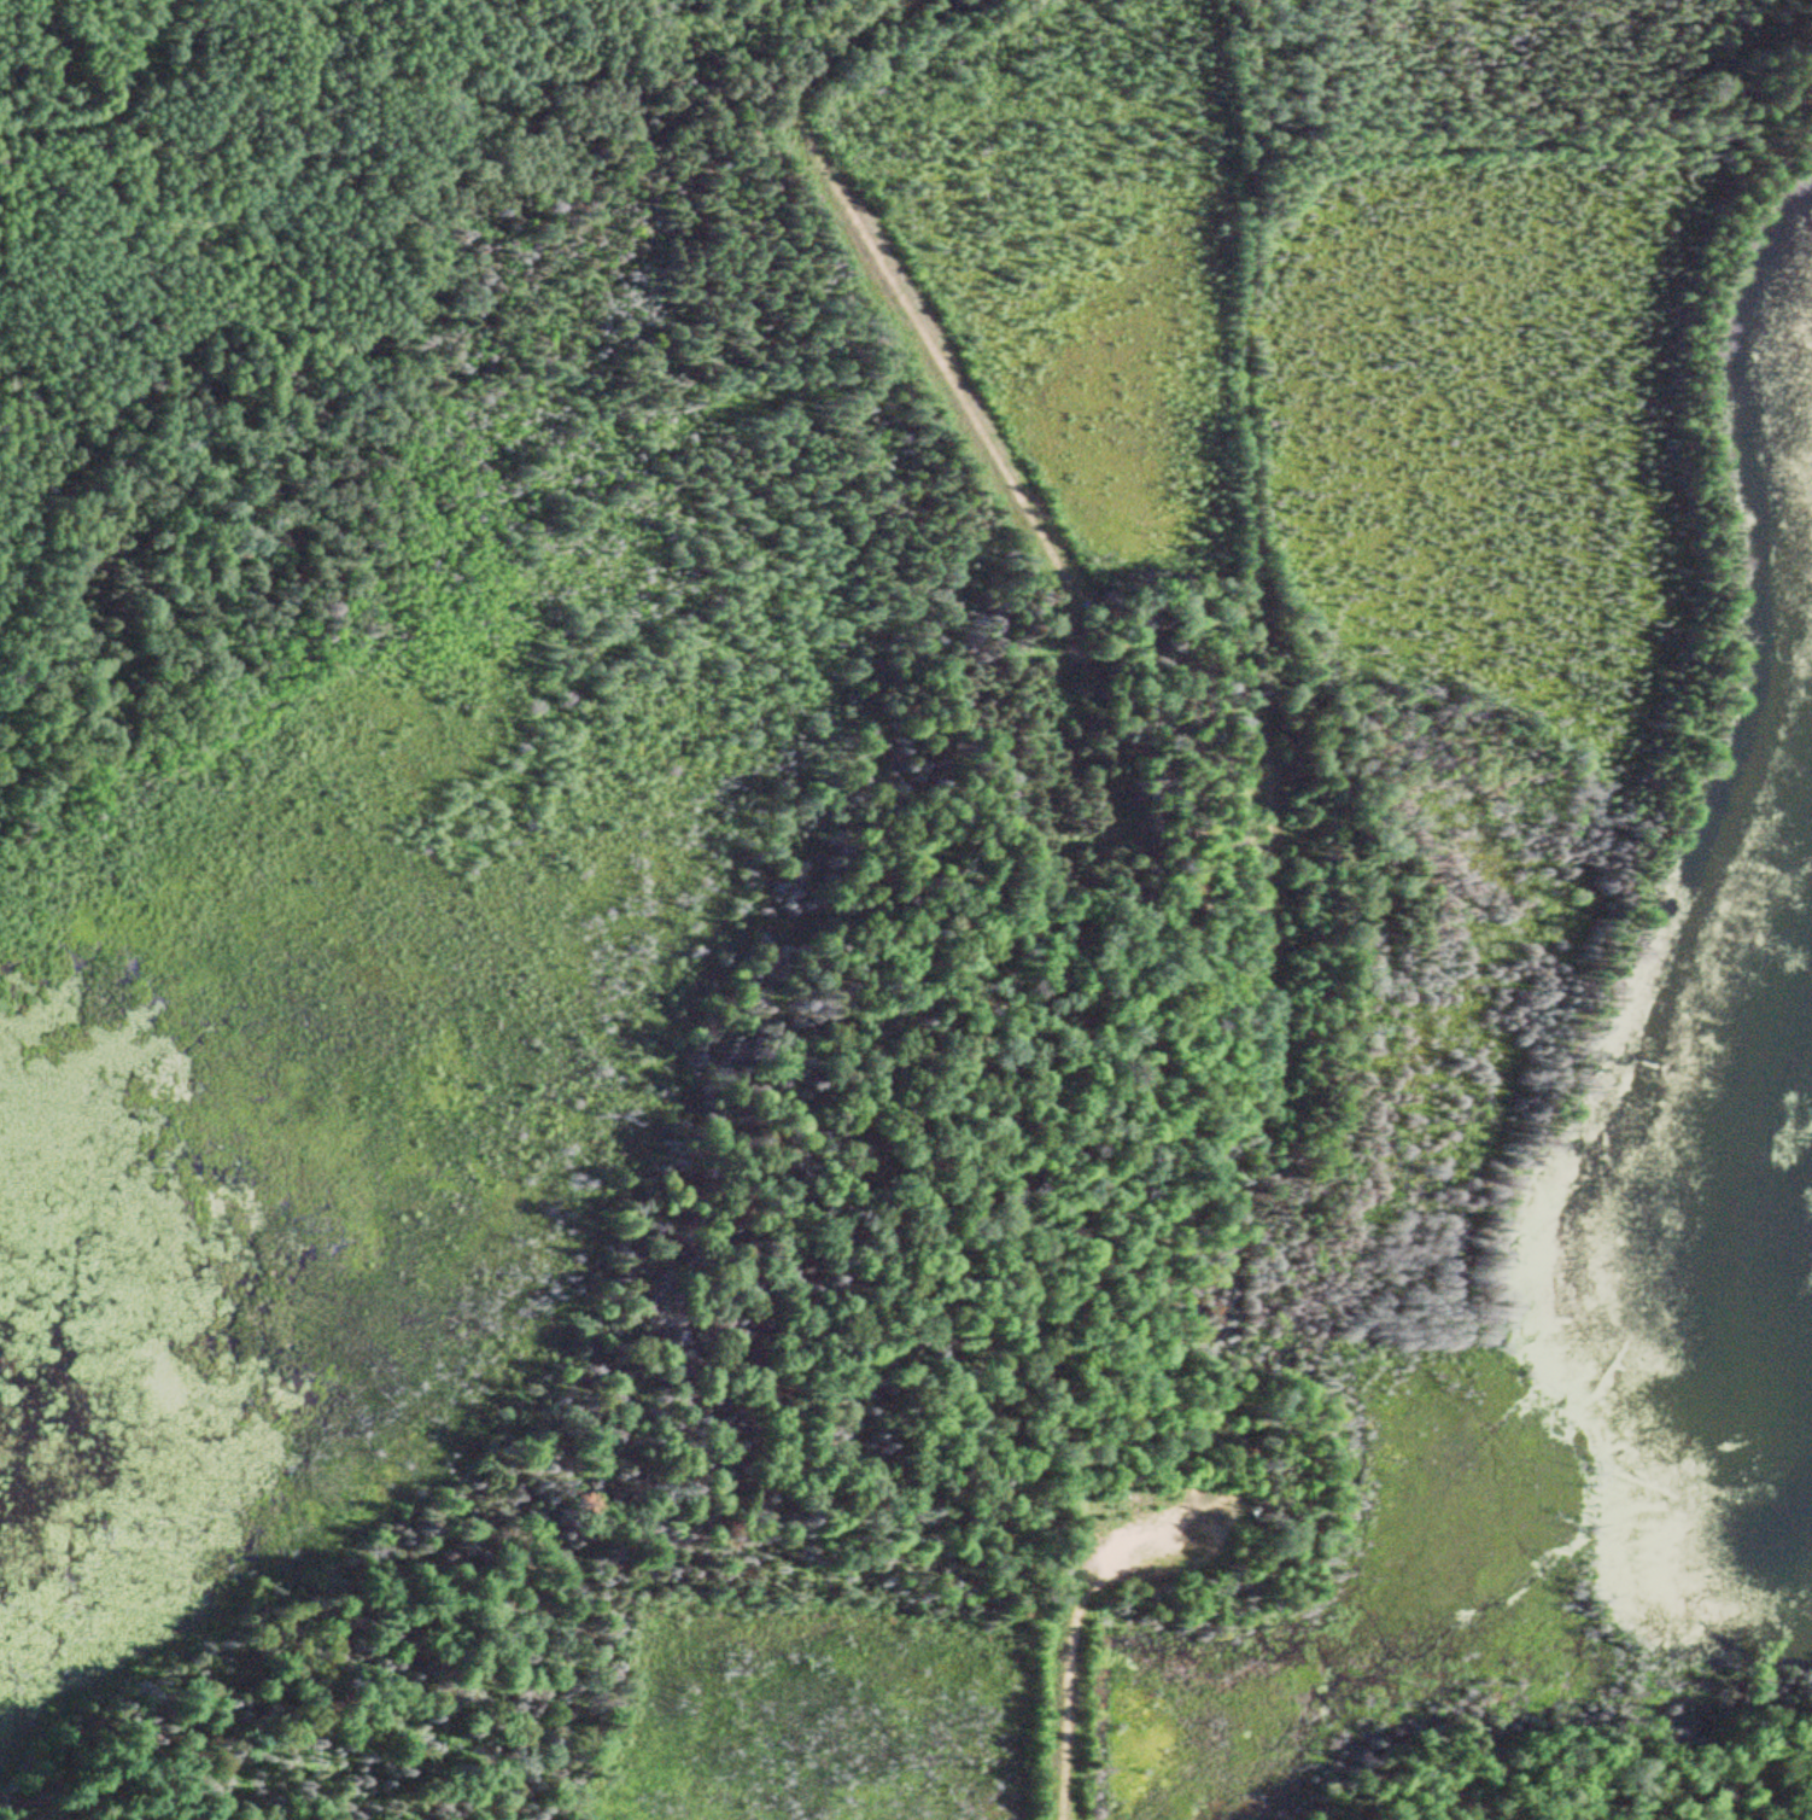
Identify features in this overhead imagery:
road: (1270, 69)
road: (122, 101)

